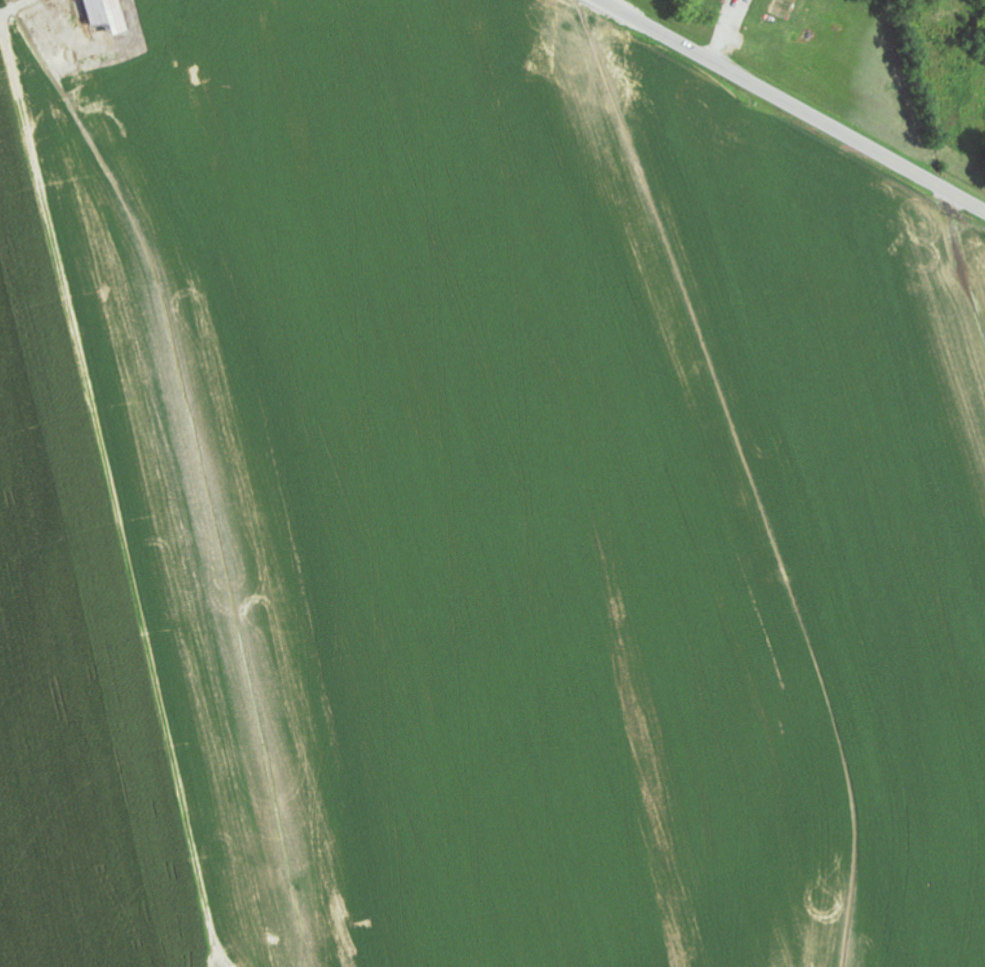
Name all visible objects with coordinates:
road: (15, 8)
building: (106, 16)
road: (792, 103)

